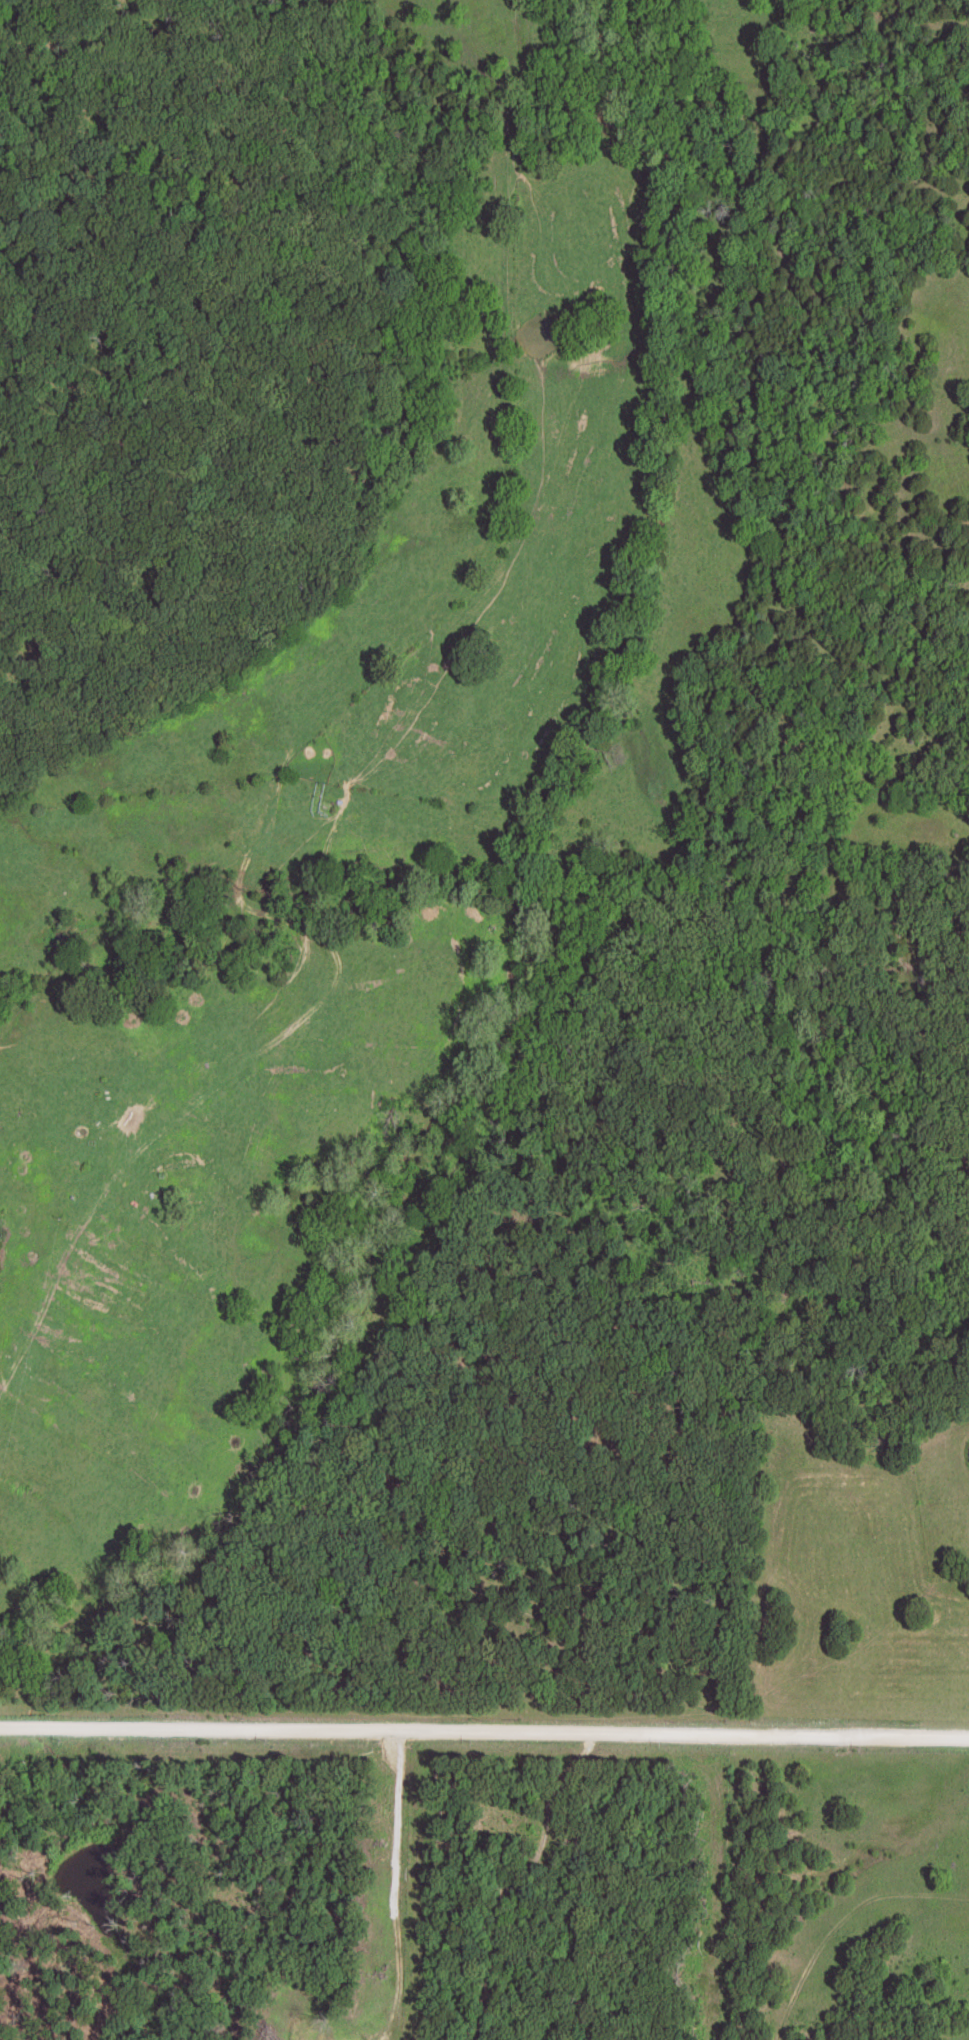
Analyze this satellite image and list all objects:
road: (484, 1733)

